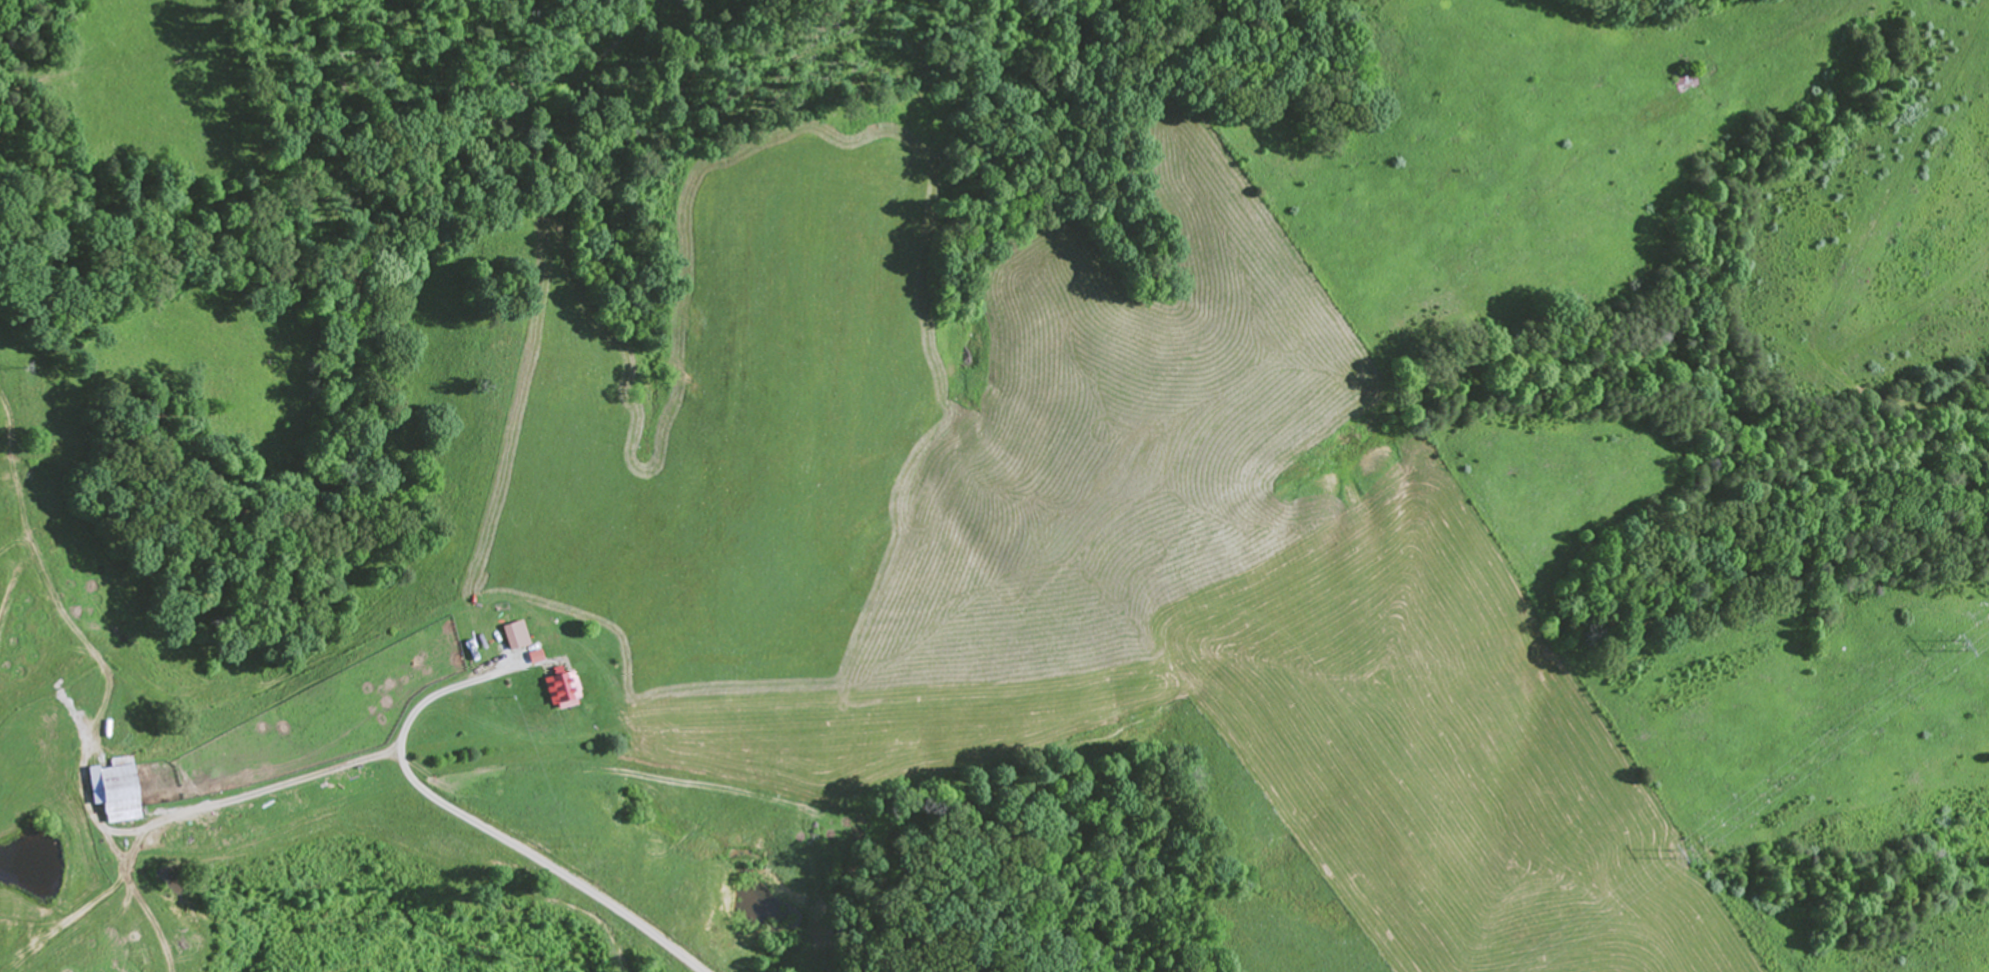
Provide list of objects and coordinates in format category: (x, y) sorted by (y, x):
building: (1685, 80)
building: (516, 638)
building: (563, 693)
road: (1838, 734)
building: (115, 794)

